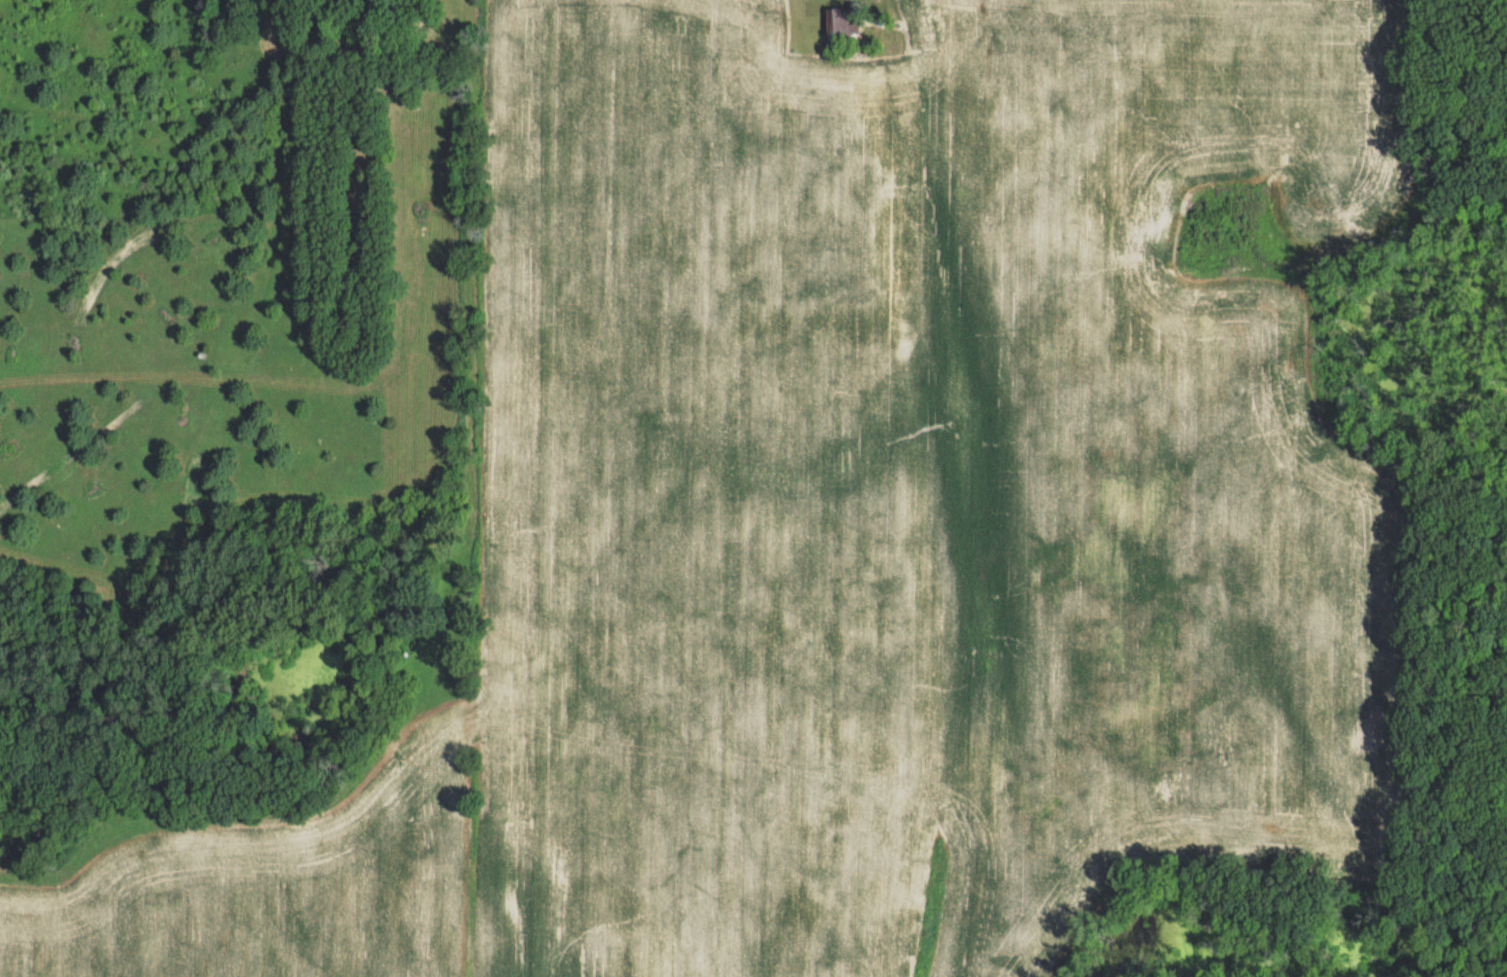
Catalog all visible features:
road: (355, 18)

